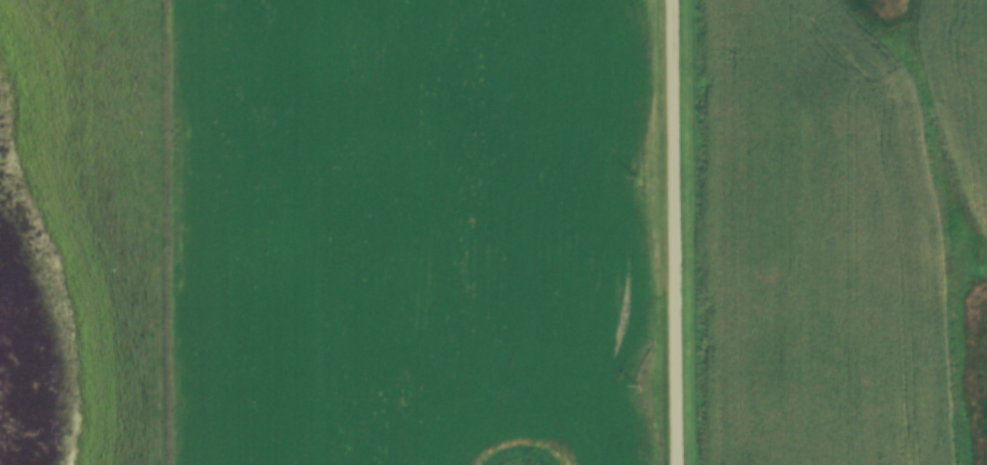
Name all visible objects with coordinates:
road: (677, 232)

